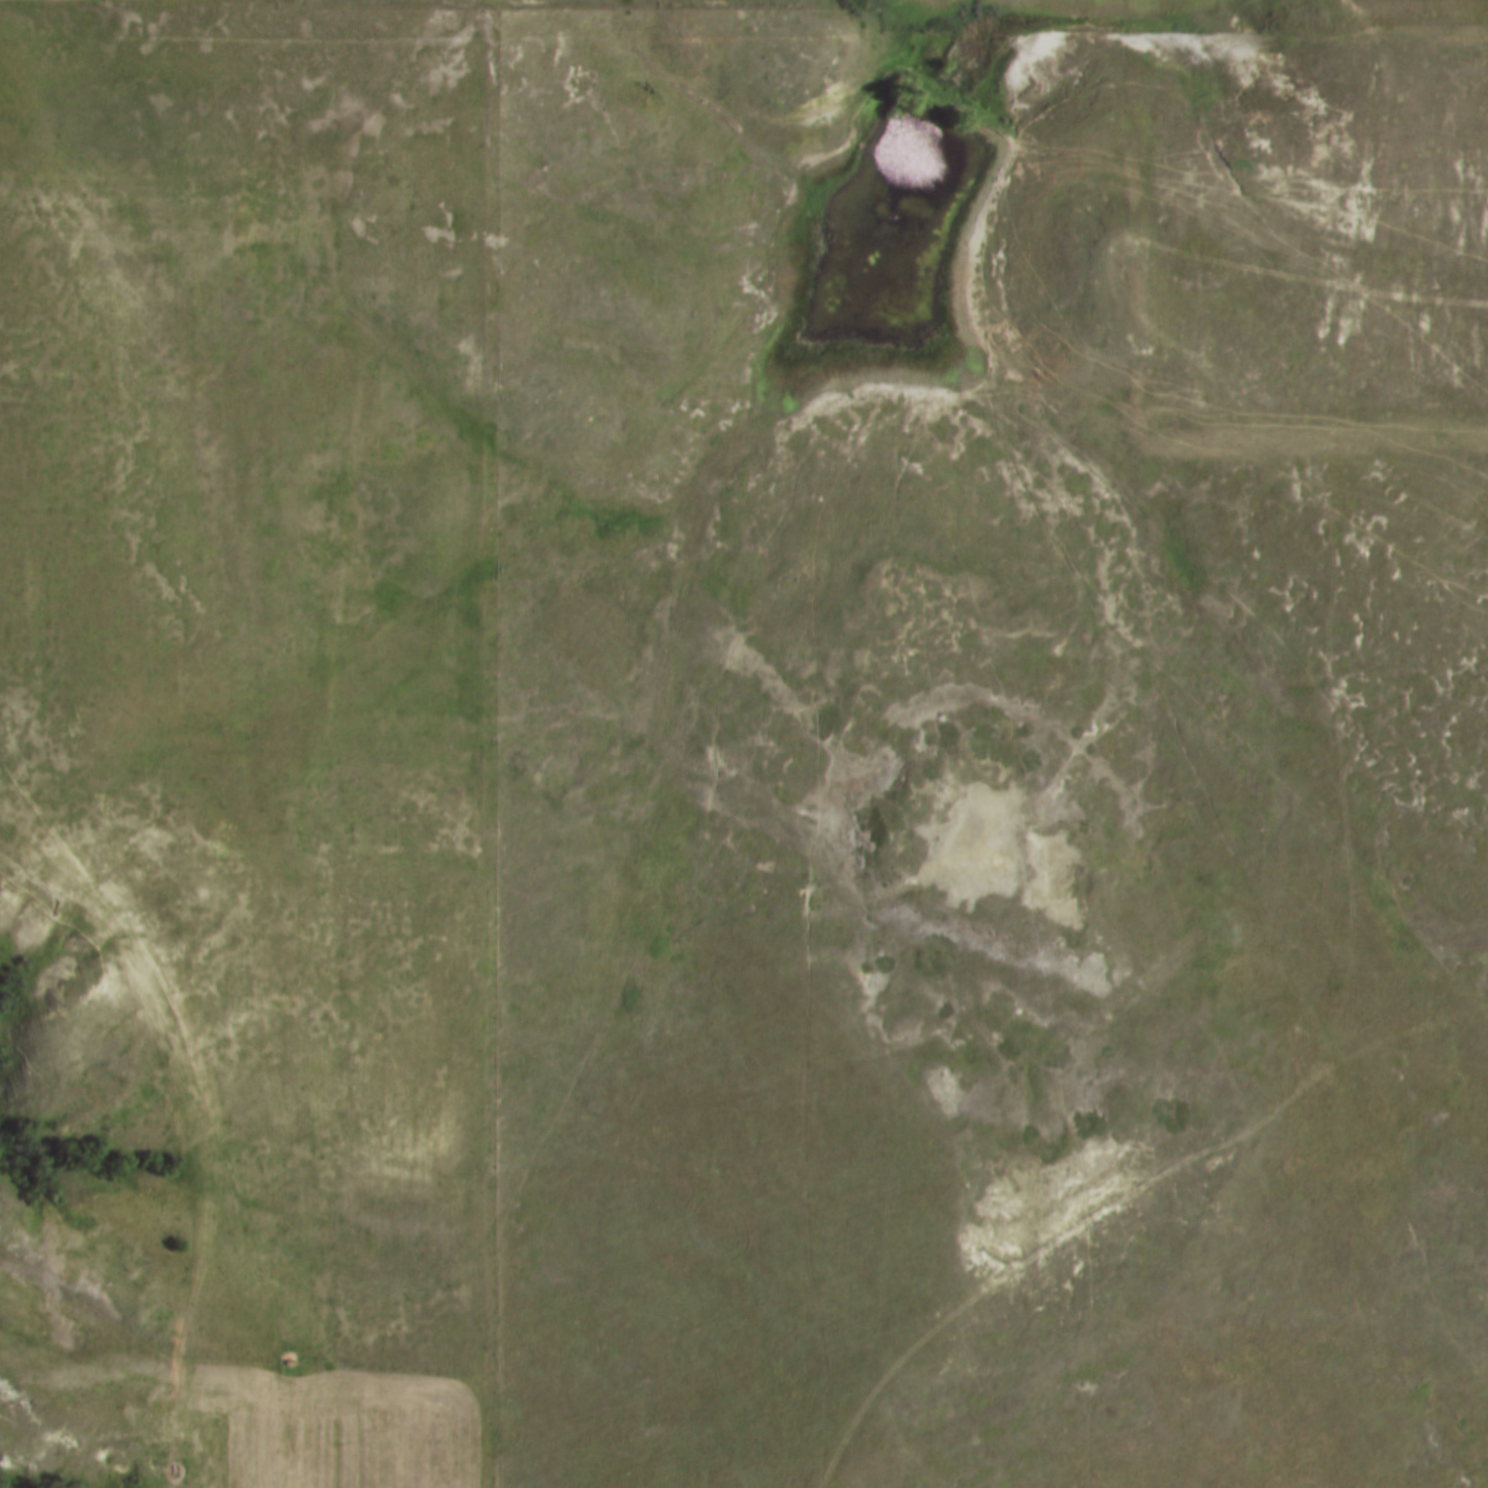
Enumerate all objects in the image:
road: (182, 1136)

